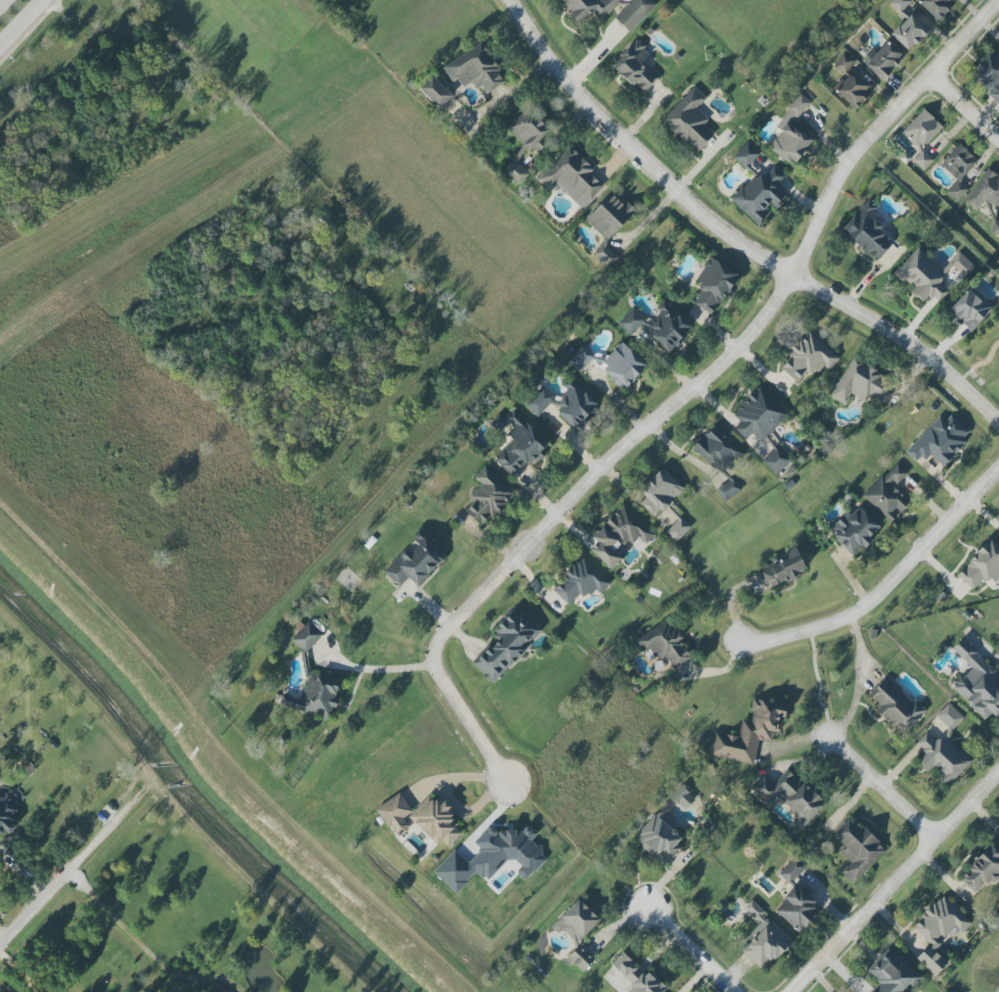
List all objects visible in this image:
road: (2, 2)
building: (899, 4)
building: (935, 7)
building: (631, 14)
road: (22, 23)
building: (908, 32)
building: (884, 60)
building: (635, 66)
building: (475, 69)
building: (987, 76)
building: (848, 82)
building: (435, 92)
building: (795, 108)
road: (965, 116)
building: (689, 120)
building: (529, 131)
building: (922, 136)
building: (790, 143)
building: (746, 155)
building: (515, 169)
building: (957, 170)
building: (572, 178)
building: (759, 195)
building: (987, 197)
building: (609, 225)
building: (868, 232)
road: (731, 239)
building: (932, 275)
building: (713, 285)
building: (971, 308)
building: (631, 321)
building: (669, 327)
building: (580, 359)
building: (807, 359)
building: (622, 365)
building: (861, 383)
road: (614, 399)
building: (539, 400)
road: (683, 401)
building: (575, 405)
building: (757, 416)
building: (498, 422)
building: (939, 441)
building: (520, 445)
building: (716, 450)
building: (775, 460)
building: (725, 487)
building: (660, 491)
building: (887, 493)
building: (487, 496)
building: (678, 530)
building: (854, 530)
building: (618, 536)
building: (415, 560)
building: (981, 566)
building: (782, 568)
building: (580, 581)
road: (890, 585)
building: (306, 643)
building: (664, 644)
building: (505, 646)
road: (376, 669)
road: (859, 680)
building: (977, 682)
building: (314, 697)
building: (895, 707)
building: (949, 717)
building: (749, 733)
building: (939, 757)
road: (884, 785)
building: (791, 796)
building: (683, 799)
building: (7, 813)
building: (395, 814)
building: (437, 822)
building: (659, 838)
building: (857, 850)
building: (493, 857)
road: (84, 863)
building: (982, 870)
road: (897, 882)
building: (796, 897)
building: (576, 922)
building: (938, 931)
building: (764, 939)
road: (2, 945)
road: (698, 950)
road: (146, 952)
building: (580, 958)
road: (18, 973)
building: (892, 973)
building: (638, 976)
building: (217, 989)

